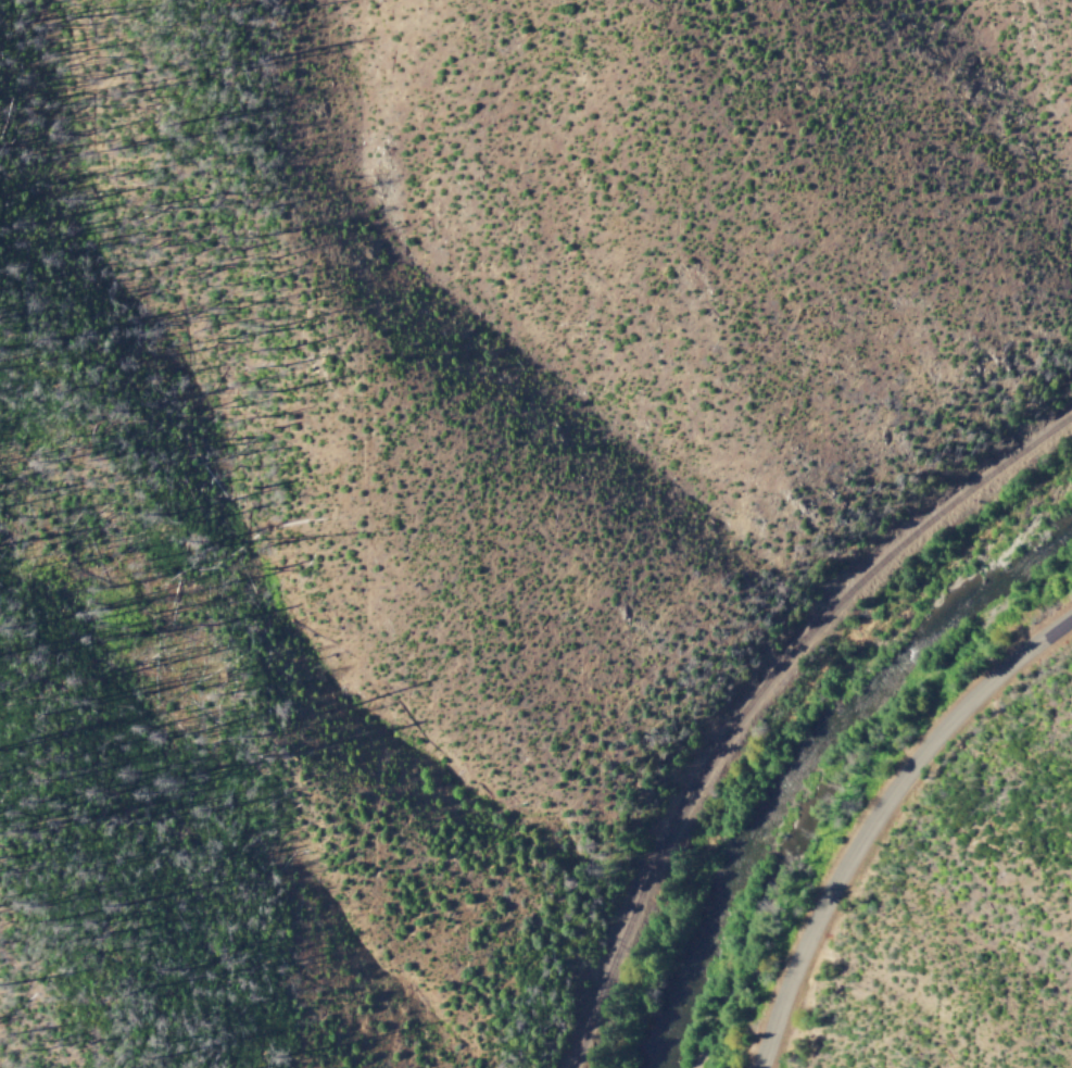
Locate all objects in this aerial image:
railway: (759, 694)
road: (878, 814)

